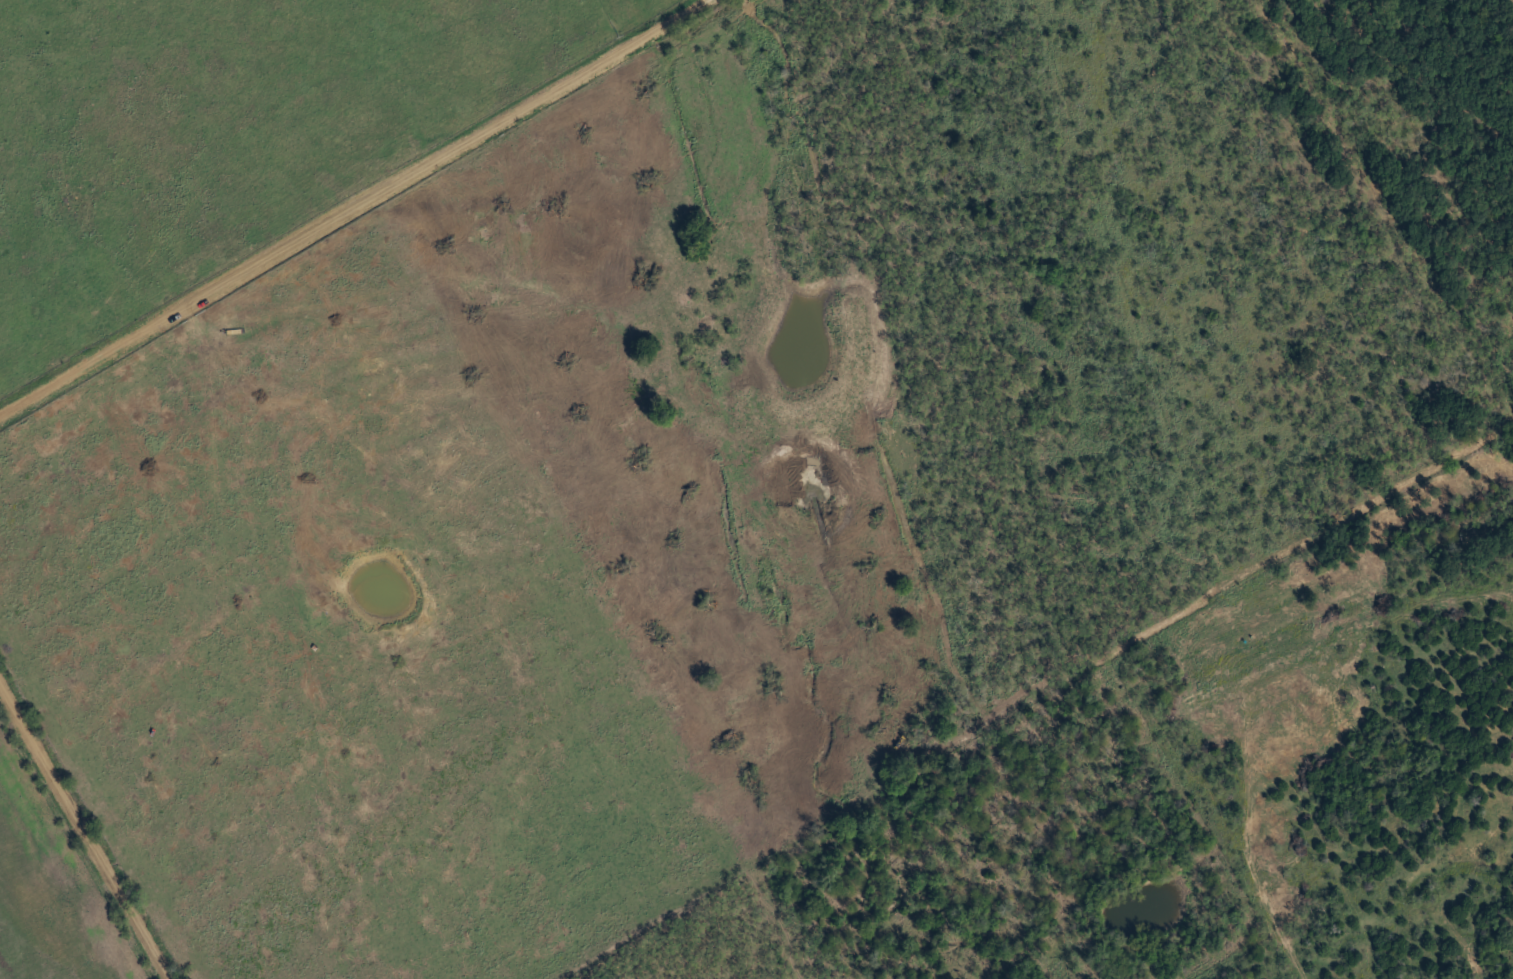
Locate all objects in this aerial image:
road: (347, 202)
road: (84, 834)

